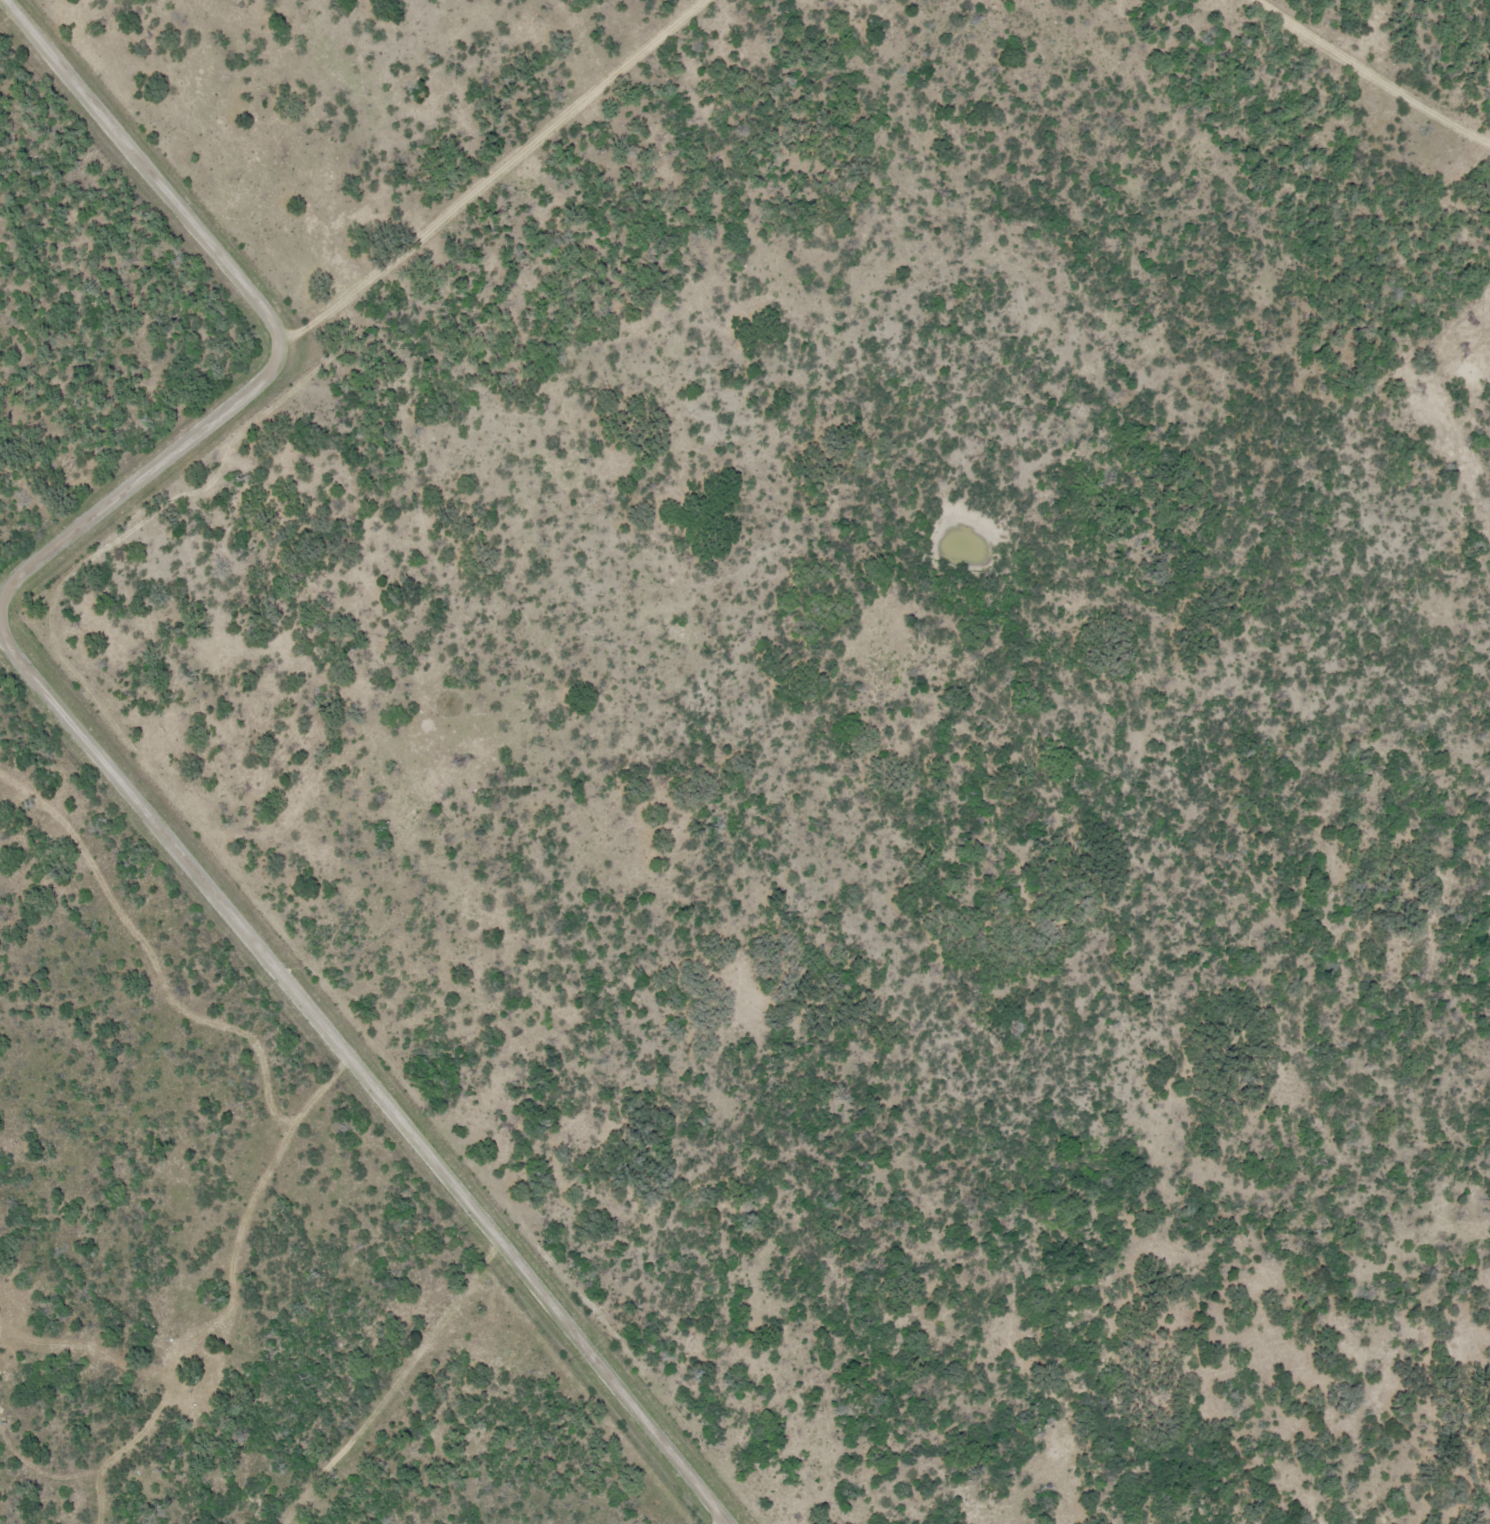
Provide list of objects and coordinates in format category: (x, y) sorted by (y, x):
road: (1369, 77)
road: (477, 194)
road: (92, 747)
road: (151, 957)
road: (273, 1174)
road: (390, 1381)

